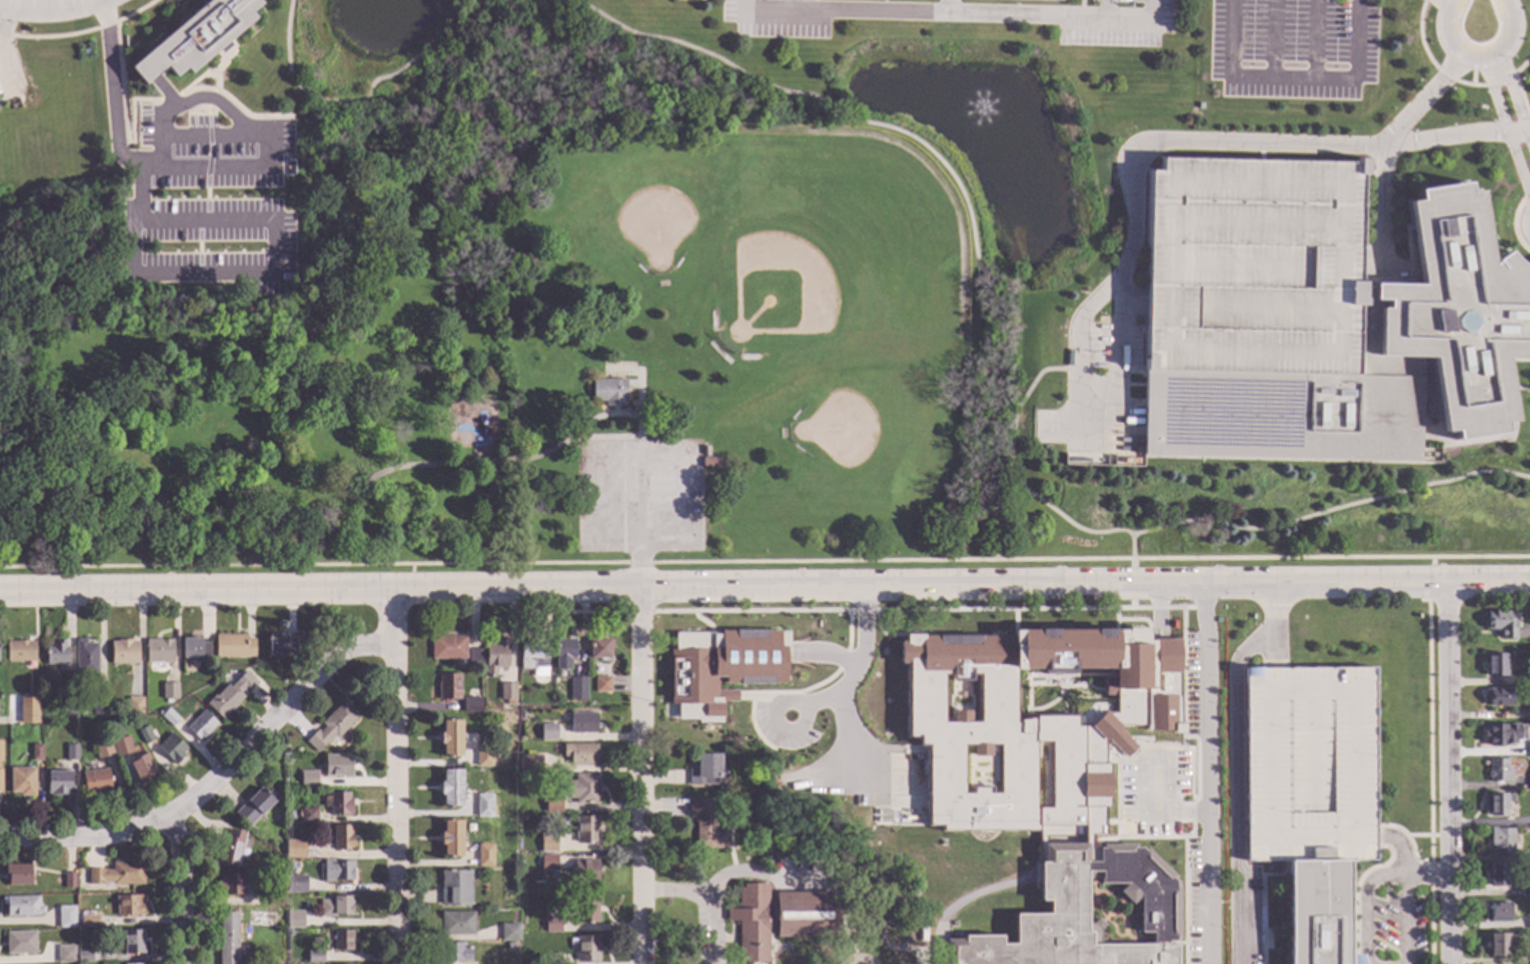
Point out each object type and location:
building: (1040, 0)
road: (38, 3)
road: (1469, 4)
road: (1106, 8)
road: (876, 10)
road: (453, 11)
road: (1059, 15)
road: (1482, 16)
road: (768, 22)
road: (79, 31)
building: (195, 38)
road: (0, 39)
road: (1230, 39)
road: (1272, 40)
road: (1315, 40)
road: (1358, 40)
road: (1293, 80)
road: (1509, 85)
road: (408, 89)
road: (204, 98)
road: (341, 102)
fountain: (984, 110)
road: (1500, 117)
road: (427, 122)
road: (1389, 134)
road: (209, 136)
road: (1171, 139)
road: (141, 164)
road: (203, 165)
road: (947, 169)
park: (653, 189)
road: (1525, 222)
park: (839, 241)
parking garage: (1253, 266)
building: (1315, 316)
park: (562, 356)
road: (1035, 378)
building: (608, 393)
park: (886, 427)
building: (704, 452)
road: (509, 462)
building: (710, 463)
parking lot: (639, 498)
road: (1331, 509)
road: (638, 518)
road: (1079, 528)
road: (1089, 559)
road: (639, 563)
road: (314, 564)
road: (411, 577)
road: (1430, 579)
road: (1489, 582)
road: (724, 586)
road: (1133, 588)
road: (926, 610)
road: (568, 612)
road: (638, 612)
building: (1501, 624)
building: (281, 644)
building: (233, 646)
building: (447, 648)
building: (195, 649)
building: (599, 650)
building: (20, 651)
building: (159, 651)
building: (124, 653)
building: (56, 654)
building: (563, 654)
building: (533, 655)
building: (496, 657)
building: (86, 658)
building: (474, 658)
building: (1495, 665)
building: (722, 669)
building: (1528, 678)
road: (844, 684)
building: (602, 685)
building: (448, 687)
building: (578, 688)
building: (171, 690)
building: (508, 694)
building: (230, 696)
building: (1498, 697)
building: (471, 705)
building: (533, 705)
building: (135, 706)
building: (67, 707)
building: (100, 707)
road: (805, 709)
building: (1528, 715)
building: (23, 716)
building: (522, 716)
building: (169, 718)
building: (1033, 722)
building: (582, 723)
building: (200, 726)
building: (331, 727)
building: (548, 732)
building: (713, 735)
building: (1494, 735)
building: (145, 736)
building: (451, 739)
building: (121, 747)
building: (102, 748)
building: (1528, 748)
building: (171, 749)
building: (1, 752)
building: (36, 753)
building: (71, 753)
building: (580, 754)
building: (483, 756)
road: (1236, 760)
building: (530, 763)
road: (1140, 763)
building: (0, 766)
building: (337, 766)
building: (141, 768)
building: (980, 770)
building: (706, 771)
building: (1498, 771)
road: (1206, 773)
road: (1449, 773)
road: (641, 775)
road: (394, 776)
road: (215, 779)
building: (308, 780)
building: (0, 781)
building: (96, 781)
building: (22, 782)
road: (1429, 782)
building: (58, 783)
building: (1528, 783)
building: (451, 788)
building: (583, 789)
building: (1310, 793)
building: (767, 800)
building: (553, 802)
building: (338, 804)
building: (1497, 804)
building: (484, 807)
building: (255, 808)
road: (1187, 812)
building: (307, 815)
building: (298, 820)
building: (706, 825)
building: (777, 829)
building: (586, 830)
building: (342, 838)
building: (451, 839)
building: (1500, 840)
building: (548, 844)
building: (232, 847)
building: (293, 850)
building: (484, 856)
building: (548, 863)
building: (337, 870)
building: (585, 871)
building: (18, 875)
building: (117, 875)
building: (1496, 875)
road: (761, 877)
road: (1388, 878)
road: (1427, 878)
building: (69, 880)
building: (296, 884)
building: (231, 885)
road: (180, 888)
building: (455, 888)
building: (1525, 890)
road: (710, 897)
building: (275, 898)
building: (22, 906)
building: (129, 906)
building: (336, 906)
building: (585, 909)
building: (1499, 912)
building: (1082, 913)
building: (66, 917)
building: (778, 918)
building: (294, 920)
building: (88, 921)
building: (1528, 921)
building: (456, 924)
building: (953, 924)
building: (552, 925)
building: (509, 933)
building: (956, 934)
building: (227, 939)
building: (341, 940)
building: (132, 942)
building: (19, 943)
building: (509, 945)
building: (1497, 945)
building: (587, 949)
building: (454, 953)
building: (65, 954)
building: (84, 957)
building: (315, 957)
building: (553, 959)
building: (1356, 959)

